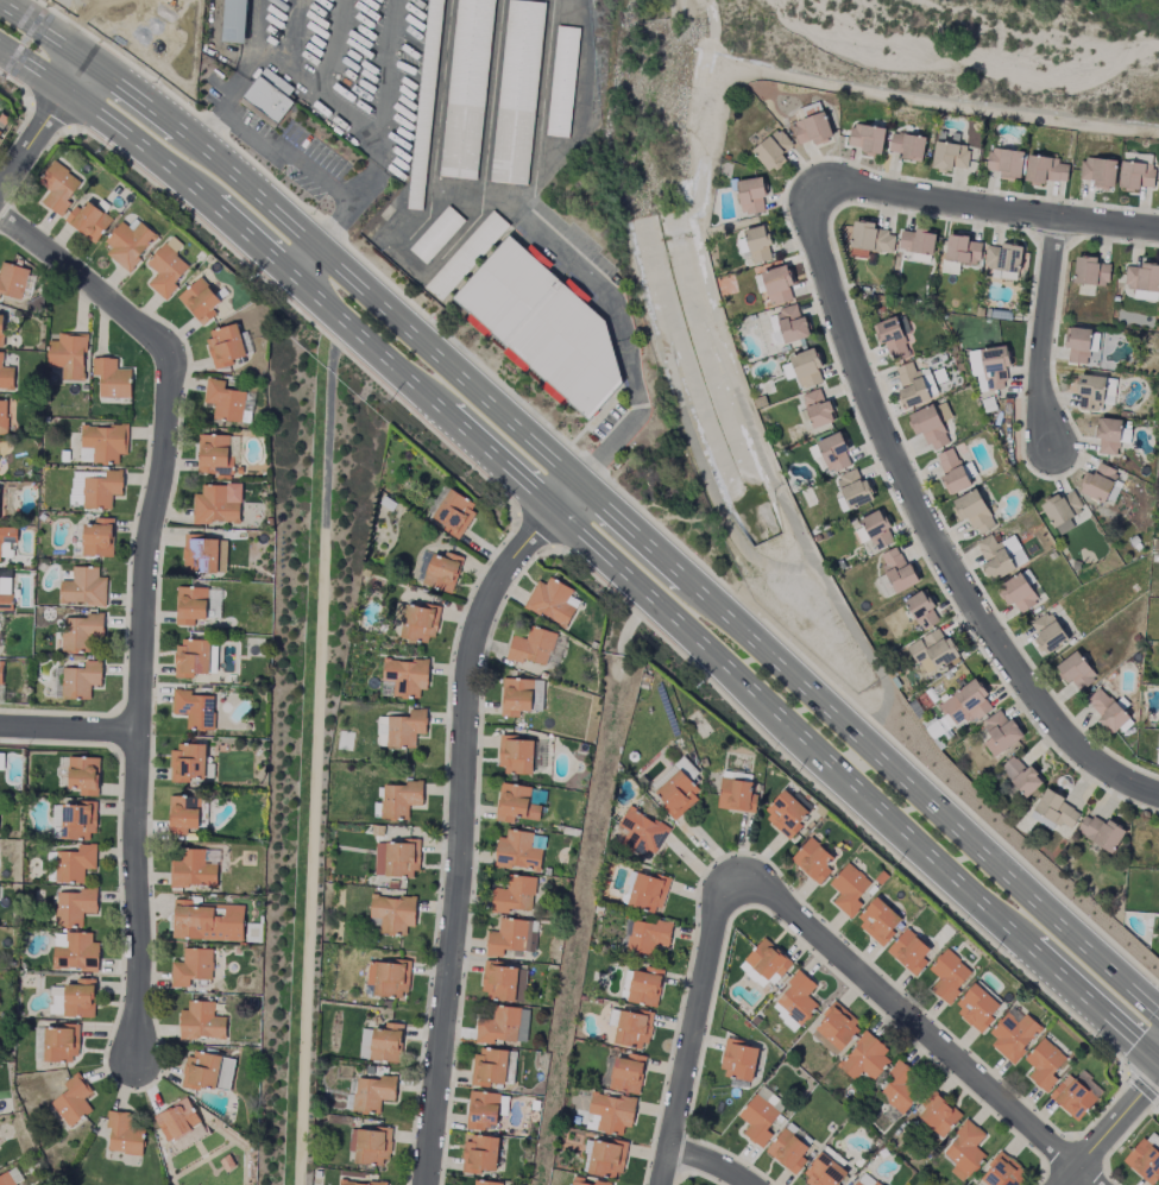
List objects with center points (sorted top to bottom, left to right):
building: (234, 20)
road: (11, 81)
building: (562, 83)
road: (24, 84)
building: (468, 89)
building: (518, 93)
road: (241, 95)
road: (900, 96)
building: (270, 103)
building: (429, 106)
road: (51, 114)
road: (43, 125)
road: (82, 127)
building: (812, 130)
building: (0, 131)
building: (867, 139)
road: (361, 146)
building: (907, 146)
building: (773, 150)
building: (949, 152)
building: (1006, 163)
building: (1046, 170)
building: (1098, 171)
building: (1136, 175)
road: (309, 179)
road: (364, 187)
building: (56, 188)
building: (751, 195)
road: (988, 206)
building: (89, 221)
building: (436, 235)
building: (870, 240)
building: (918, 241)
building: (128, 244)
building: (758, 244)
building: (962, 251)
building: (1003, 260)
building: (166, 267)
building: (1090, 271)
building: (1142, 277)
building: (12, 281)
building: (29, 285)
building: (777, 285)
building: (1145, 296)
building: (200, 301)
road: (300, 311)
building: (529, 316)
building: (792, 324)
building: (1, 330)
road: (1045, 333)
building: (892, 340)
building: (225, 346)
road: (624, 346)
building: (68, 355)
building: (806, 367)
building: (989, 367)
building: (788, 371)
building: (6, 376)
building: (112, 378)
building: (911, 385)
building: (223, 401)
building: (817, 408)
building: (2, 417)
road: (750, 423)
building: (931, 424)
building: (1108, 435)
building: (105, 442)
building: (833, 453)
building: (952, 472)
road: (605, 478)
road: (707, 483)
building: (1098, 483)
building: (102, 490)
building: (853, 490)
road: (591, 494)
building: (218, 504)
building: (974, 511)
building: (1062, 511)
building: (454, 513)
road: (931, 528)
road: (519, 529)
road: (535, 530)
building: (877, 530)
building: (861, 535)
building: (97, 538)
building: (7, 542)
road: (588, 547)
road: (569, 549)
building: (204, 555)
building: (994, 556)
building: (896, 569)
building: (442, 572)
building: (83, 587)
building: (1018, 593)
building: (5, 594)
road: (143, 595)
building: (552, 601)
building: (190, 605)
building: (921, 611)
building: (416, 622)
road: (630, 626)
building: (82, 632)
building: (1048, 632)
building: (531, 647)
building: (933, 651)
building: (191, 657)
building: (1076, 672)
building: (0, 673)
building: (405, 676)
building: (81, 680)
building: (516, 696)
building: (965, 704)
building: (194, 710)
building: (1107, 711)
road: (884, 712)
park: (307, 713)
road: (68, 729)
building: (405, 729)
building: (380, 731)
building: (999, 732)
road: (317, 755)
building: (516, 755)
building: (1, 761)
building: (187, 763)
building: (83, 775)
building: (667, 775)
building: (1020, 775)
building: (678, 794)
building: (736, 795)
building: (399, 799)
building: (515, 803)
road: (844, 811)
building: (1054, 812)
building: (183, 814)
building: (786, 814)
road: (461, 817)
building: (74, 821)
building: (640, 832)
building: (1101, 833)
building: (518, 851)
building: (397, 858)
building: (813, 861)
building: (75, 864)
building: (190, 869)
building: (849, 889)
building: (647, 891)
building: (514, 895)
building: (74, 907)
building: (392, 913)
road: (581, 920)
building: (878, 920)
building: (207, 921)
building: (648, 937)
building: (511, 938)
building: (75, 952)
building: (909, 952)
building: (764, 964)
building: (191, 967)
building: (949, 975)
building: (388, 978)
building: (503, 982)
building: (645, 987)
building: (80, 998)
building: (796, 998)
building: (976, 1007)
building: (201, 1022)
building: (502, 1026)
road: (919, 1027)
building: (632, 1028)
building: (834, 1029)
road: (695, 1032)
building: (1013, 1036)
building: (380, 1042)
building: (61, 1044)
road: (1123, 1058)
building: (864, 1059)
building: (738, 1060)
building: (1044, 1064)
building: (490, 1067)
building: (206, 1070)
building: (626, 1073)
building: (901, 1086)
road: (1145, 1090)
building: (372, 1093)
building: (1072, 1097)
building: (770, 1098)
building: (73, 1101)
building: (483, 1110)
building: (612, 1112)
road: (1145, 1112)
building: (938, 1115)
building: (177, 1120)
building: (757, 1120)
road: (1109, 1129)
building: (124, 1134)
building: (1153, 1141)
building: (370, 1146)
building: (965, 1148)
building: (788, 1151)
building: (480, 1154)
building: (603, 1158)
road: (713, 1158)
building: (1144, 1161)
building: (824, 1172)
building: (1002, 1172)
building: (5, 1179)
building: (864, 1180)
building: (585, 1181)
building: (358, 1183)
building: (485, 1183)

